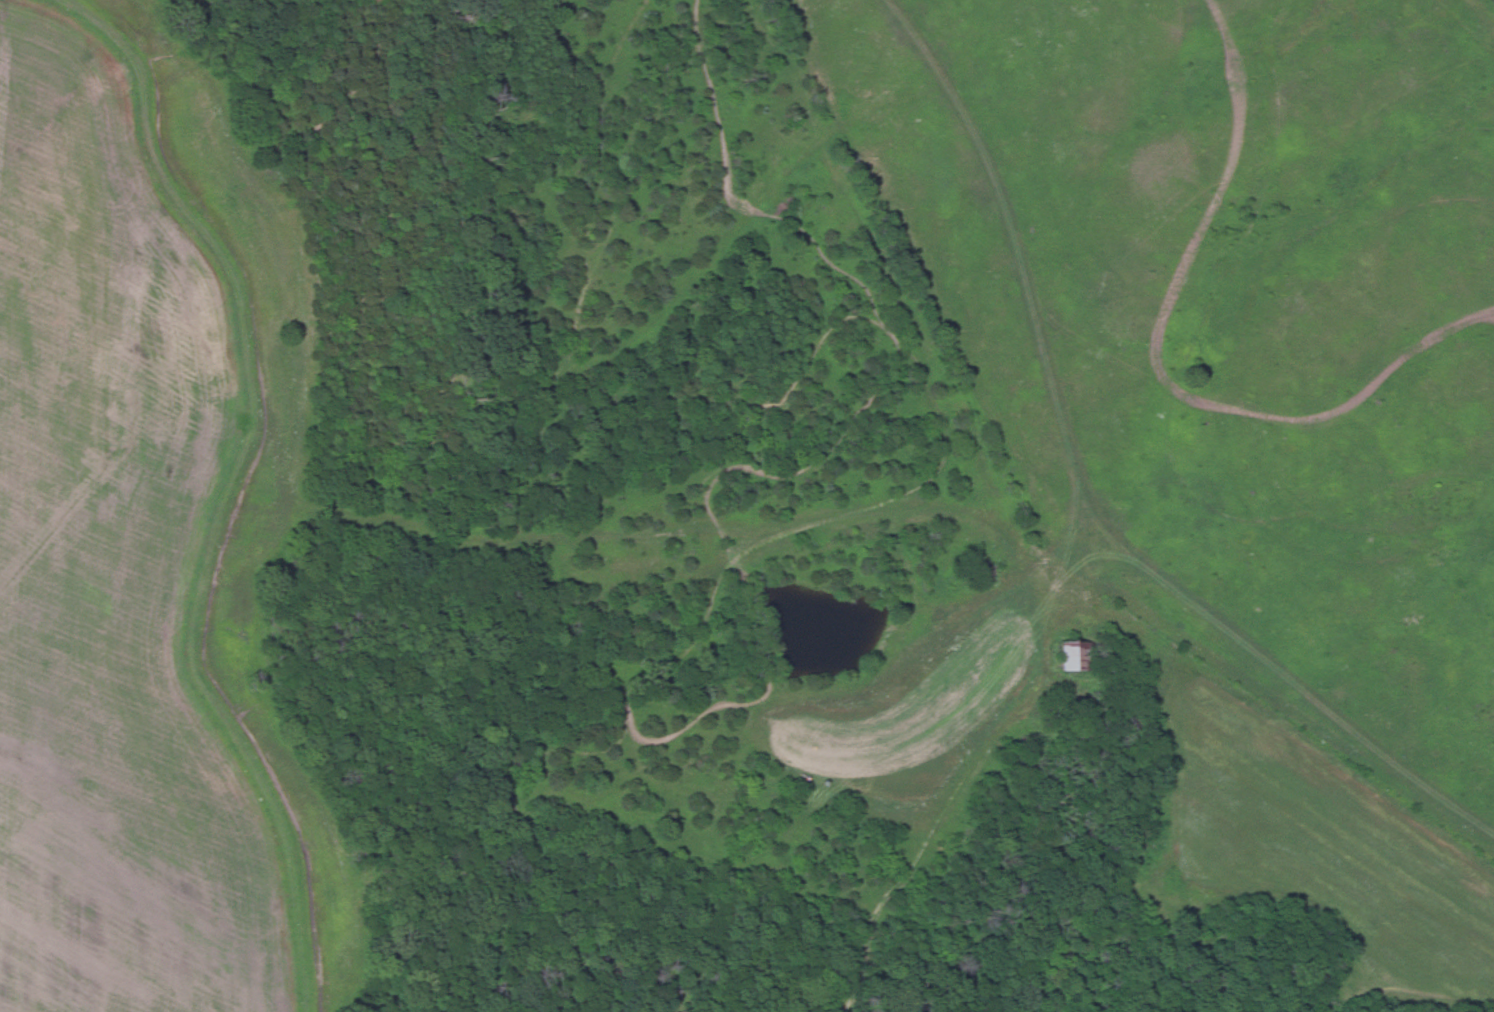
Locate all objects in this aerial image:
building: (1071, 656)
road: (1363, 680)

